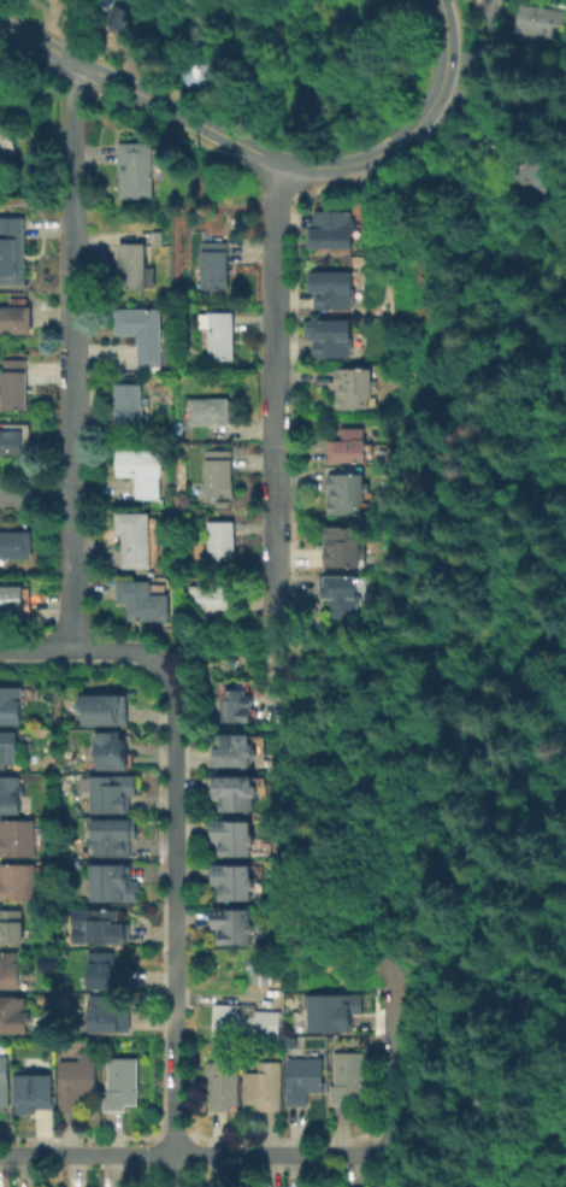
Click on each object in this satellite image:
building: (119, 12)
building: (537, 19)
road: (55, 65)
building: (199, 75)
building: (536, 106)
building: (7, 137)
road: (265, 155)
building: (136, 168)
building: (537, 174)
building: (336, 228)
building: (12, 249)
building: (132, 264)
building: (214, 264)
building: (332, 289)
building: (16, 318)
building: (142, 334)
building: (219, 334)
building: (326, 335)
road: (70, 354)
building: (13, 382)
building: (353, 387)
road: (271, 394)
building: (128, 405)
building: (208, 411)
building: (10, 441)
building: (347, 443)
building: (141, 469)
building: (218, 472)
building: (344, 492)
road: (34, 493)
building: (132, 537)
building: (220, 539)
building: (13, 543)
building: (341, 545)
building: (341, 595)
building: (208, 598)
building: (142, 599)
building: (13, 605)
road: (83, 650)
road: (173, 700)
building: (231, 700)
building: (12, 705)
building: (101, 707)
building: (10, 747)
building: (228, 750)
building: (111, 751)
building: (10, 793)
building: (235, 793)
building: (116, 794)
road: (173, 829)
building: (112, 835)
building: (234, 836)
building: (18, 839)
building: (231, 880)
building: (18, 882)
building: (112, 882)
building: (12, 924)
building: (231, 925)
building: (106, 927)
building: (11, 968)
building: (108, 969)
building: (335, 1012)
building: (12, 1013)
building: (108, 1013)
building: (243, 1019)
road: (394, 1053)
road: (173, 1054)
building: (306, 1079)
building: (349, 1079)
building: (5, 1081)
building: (77, 1082)
building: (124, 1082)
building: (225, 1083)
building: (265, 1086)
building: (39, 1091)
road: (464, 1091)
road: (196, 1154)
road: (536, 1159)

